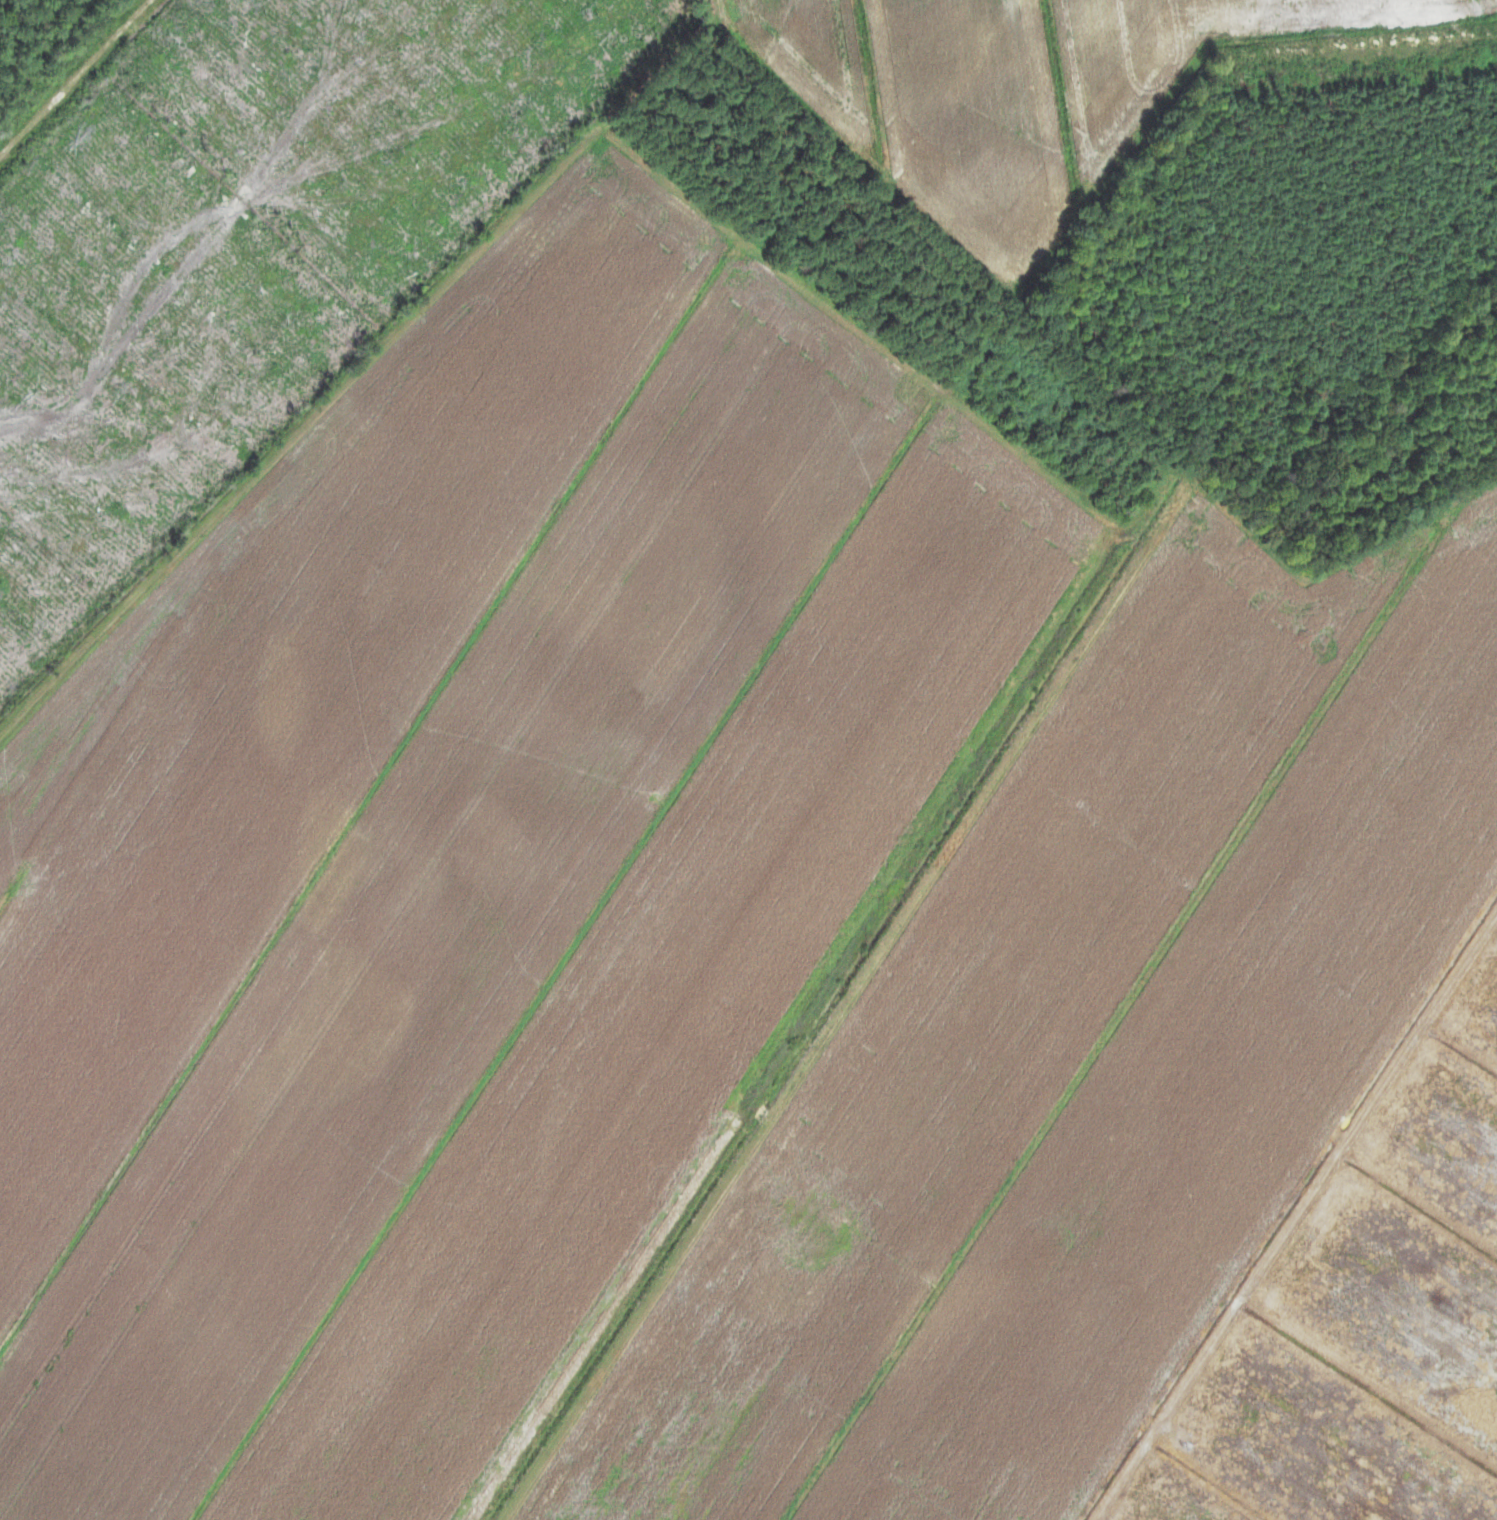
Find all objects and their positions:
road: (70, 74)

